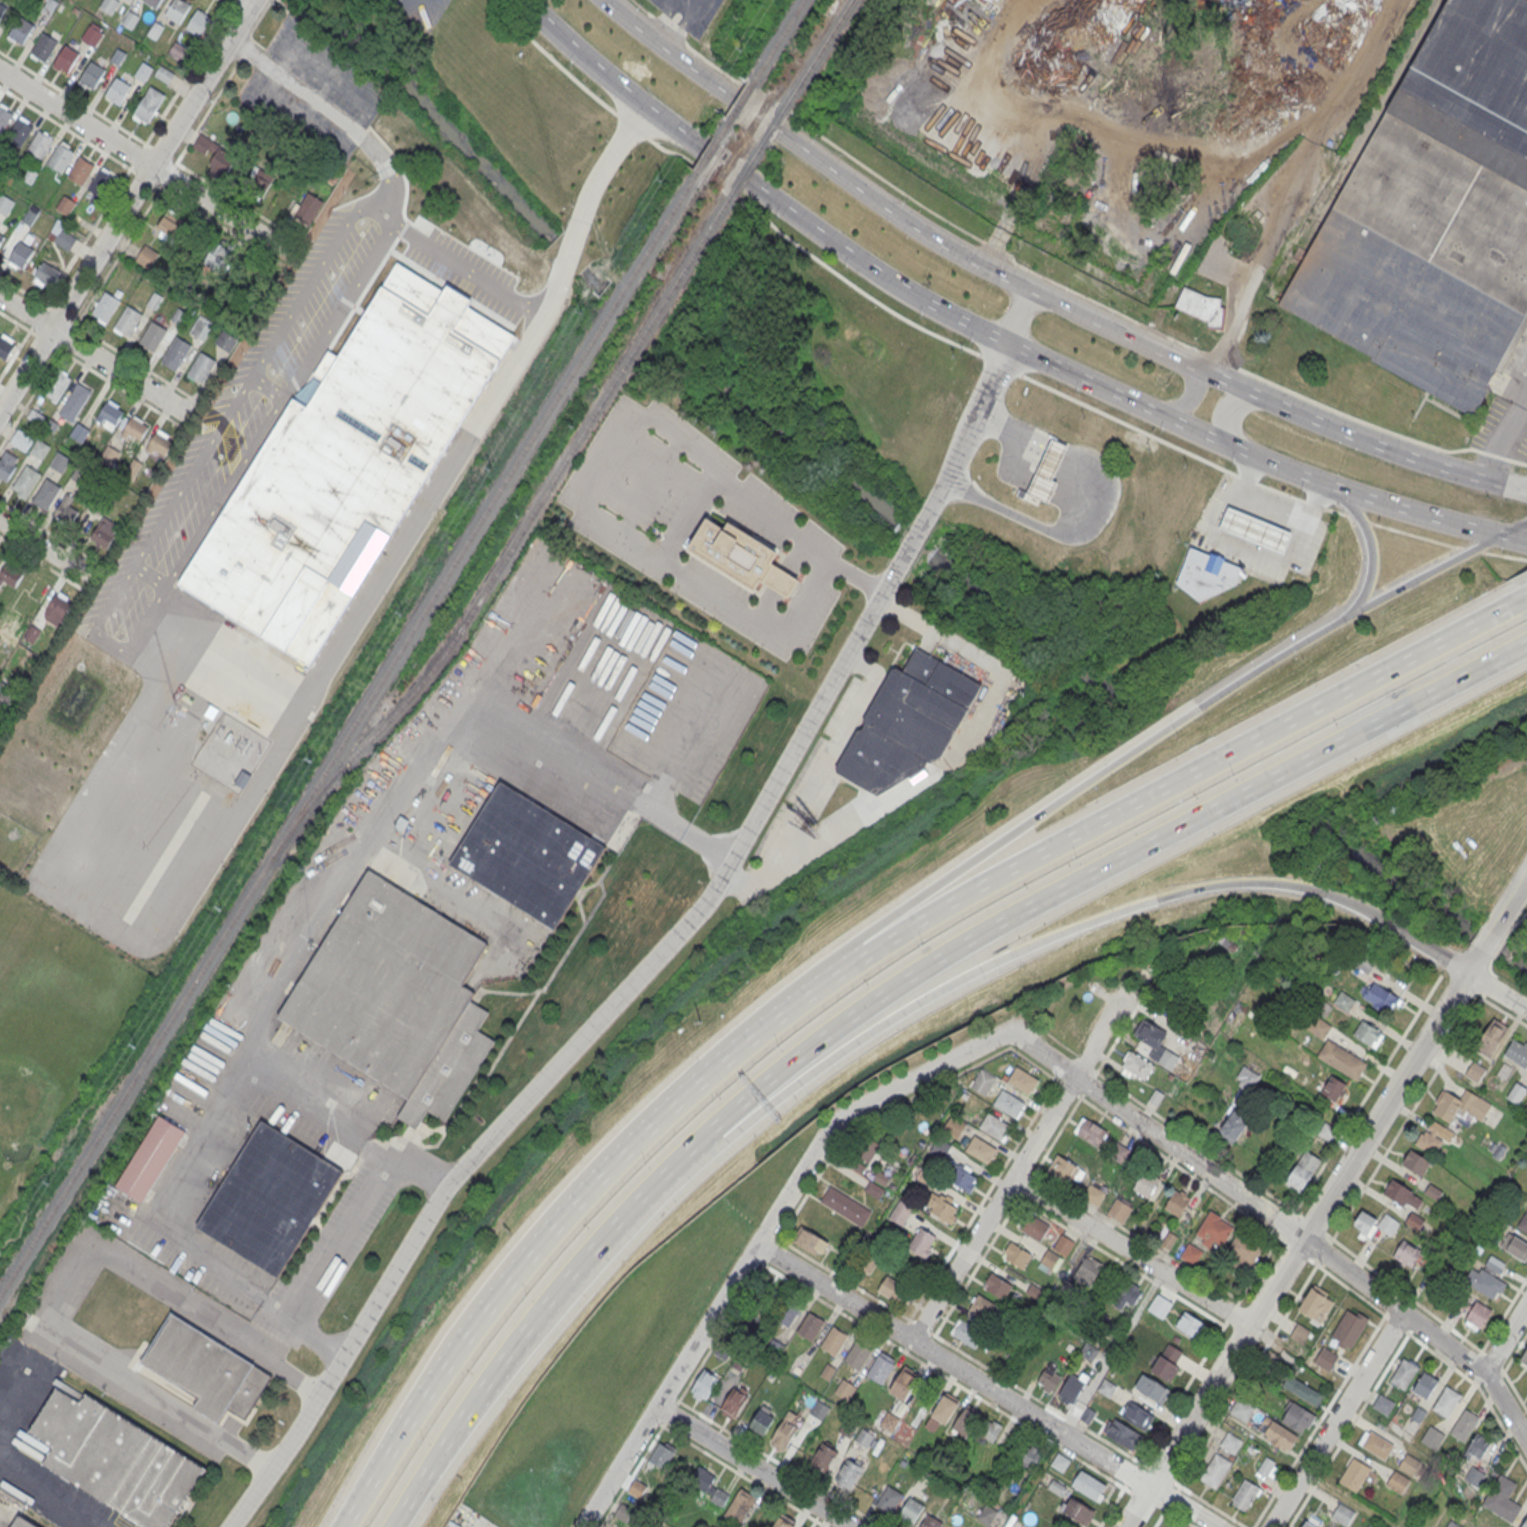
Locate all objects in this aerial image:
road: (235, 0)
road: (252, 0)
road: (227, 2)
building: (153, 3)
building: (110, 5)
road: (684, 5)
road: (701, 5)
building: (178, 11)
parking lot: (693, 14)
building: (199, 24)
road: (254, 25)
road: (676, 29)
building: (21, 31)
building: (91, 36)
road: (252, 38)
railway: (778, 40)
building: (44, 48)
road: (246, 48)
building: (178, 50)
railway: (819, 51)
building: (66, 60)
building: (92, 77)
building: (118, 92)
building: (149, 105)
river: (440, 114)
building: (4, 117)
road: (768, 124)
railway: (725, 125)
building: (19, 132)
railway: (1365, 132)
road: (1177, 141)
building: (40, 144)
railway: (758, 149)
building: (216, 156)
building: (61, 157)
road: (145, 160)
road: (383, 160)
road: (716, 161)
building: (80, 169)
road: (140, 176)
building: (259, 181)
building: (101, 182)
road: (116, 189)
road: (231, 196)
building: (5, 204)
building: (65, 204)
road: (127, 207)
building: (308, 210)
building: (1434, 214)
building: (173, 225)
building: (2, 237)
building: (63, 238)
road: (1268, 238)
road: (121, 253)
building: (220, 253)
river: (569, 253)
building: (21, 256)
building: (147, 256)
building: (47, 274)
river: (594, 278)
road: (556, 282)
building: (106, 306)
road: (1064, 306)
building: (1200, 308)
river: (636, 318)
building: (128, 320)
road: (966, 326)
building: (201, 330)
building: (152, 335)
road: (99, 340)
building: (226, 342)
building: (6, 347)
road: (971, 350)
building: (178, 351)
road: (95, 355)
building: (202, 367)
road: (90, 368)
building: (57, 386)
road: (1187, 401)
building: (75, 402)
road: (1226, 409)
building: (110, 415)
building: (135, 430)
road: (1011, 431)
river: (781, 436)
road: (1357, 437)
building: (21, 440)
road: (1505, 441)
building: (160, 448)
building: (39, 449)
road: (1053, 455)
building: (356, 458)
road: (1262, 460)
building: (59, 462)
building: (8, 465)
building: (1047, 470)
building: (26, 481)
road: (1514, 484)
traffic signals: (1502, 485)
building: (46, 493)
road: (1270, 506)
road: (682, 528)
road: (1038, 528)
road: (1512, 528)
building: (1255, 530)
road: (49, 531)
building: (104, 531)
railway: (516, 539)
road: (1366, 539)
river: (913, 540)
road: (45, 550)
road: (1249, 550)
building: (741, 556)
building: (0, 557)
road: (42, 562)
building: (1206, 573)
road: (1425, 573)
building: (10, 576)
building: (57, 610)
river: (1034, 642)
road: (984, 659)
road: (501, 660)
building: (7, 696)
building: (907, 722)
railway: (348, 730)
power substation: (230, 753)
river: (1222, 768)
road: (817, 776)
building: (242, 778)
road: (651, 782)
road: (469, 783)
road: (1160, 789)
road: (1070, 794)
road: (860, 817)
building: (527, 854)
road: (1109, 868)
river: (1413, 891)
road: (1510, 903)
road: (319, 920)
road: (1517, 922)
road: (1079, 926)
road: (673, 937)
road: (1487, 940)
road: (1475, 960)
road: (1498, 989)
building: (396, 997)
building: (1380, 997)
building: (1343, 1001)
park: (51, 1028)
building: (1319, 1028)
building: (1368, 1033)
building: (1149, 1034)
building: (1491, 1039)
building: (1517, 1053)
building: (1342, 1059)
building: (1167, 1060)
building: (1136, 1067)
building: (1475, 1073)
building: (1022, 1080)
building: (982, 1081)
building: (1334, 1088)
building: (1516, 1094)
building: (1008, 1103)
building: (1460, 1106)
building: (995, 1126)
building: (1234, 1126)
building: (1091, 1133)
building: (1326, 1133)
building: (1431, 1136)
road: (207, 1137)
road: (379, 1149)
building: (980, 1149)
building: (862, 1154)
building: (1119, 1154)
building: (150, 1158)
building: (1416, 1163)
road: (1017, 1169)
building: (1065, 1170)
building: (1302, 1172)
building: (962, 1178)
building: (1145, 1185)
building: (1403, 1195)
building: (1093, 1196)
building: (269, 1198)
building: (1177, 1204)
building: (845, 1205)
building: (942, 1209)
road: (357, 1210)
building: (1119, 1211)
building: (900, 1214)
building: (1414, 1221)
road: (1280, 1223)
building: (1523, 1223)
building: (1373, 1224)
building: (1034, 1226)
building: (1215, 1231)
road: (542, 1236)
road: (758, 1241)
building: (811, 1241)
building: (1168, 1241)
building: (922, 1243)
building: (1063, 1245)
building: (1513, 1246)
road: (1297, 1249)
building: (1246, 1250)
road: (1130, 1253)
building: (1407, 1254)
building: (1016, 1255)
building: (1191, 1255)
building: (1051, 1259)
building: (1087, 1270)
road: (66, 1280)
building: (1487, 1284)
building: (997, 1285)
building: (895, 1292)
road: (555, 1293)
building: (1128, 1296)
building: (1316, 1305)
building: (983, 1308)
building: (786, 1313)
building: (1474, 1314)
road: (1387, 1317)
building: (1189, 1324)
road: (303, 1326)
building: (810, 1327)
building: (1349, 1329)
building: (968, 1333)
building: (1300, 1334)
parking lot: (67, 1341)
road: (1504, 1341)
building: (833, 1342)
building: (857, 1356)
building: (1524, 1358)
building: (1325, 1360)
building: (1167, 1362)
building: (204, 1369)
building: (880, 1369)
road: (1249, 1371)
road: (1504, 1372)
building: (1403, 1374)
building: (1049, 1380)
building: (704, 1383)
building: (903, 1385)
building: (1424, 1385)
road: (984, 1387)
building: (1106, 1388)
building: (1071, 1389)
building: (1151, 1389)
road: (1480, 1389)
building: (844, 1390)
building: (1302, 1391)
building: (733, 1402)
building: (1446, 1402)
building: (1383, 1405)
building: (944, 1410)
building: (1241, 1410)
building: (819, 1411)
building: (1136, 1416)
parking lot: (18, 1417)
building: (1297, 1418)
road: (1336, 1420)
building: (762, 1421)
building: (888, 1422)
building: (965, 1422)
building: (1464, 1425)
building: (785, 1430)
building: (847, 1430)
building: (989, 1432)
building: (1278, 1434)
building: (1432, 1438)
building: (864, 1439)
building: (1231, 1444)
building: (1376, 1444)
building: (1478, 1446)
building: (661, 1456)
building: (1029, 1457)
building: (823, 1458)
building: (115, 1459)
building: (1059, 1464)
building: (1408, 1464)
road: (752, 1467)
building: (1268, 1467)
building: (1215, 1469)
building: (848, 1475)
building: (1355, 1475)
building: (1475, 1477)
building: (1398, 1482)
building: (707, 1484)
building: (1088, 1486)
building: (637, 1489)
building: (1245, 1494)
building: (1502, 1498)
road: (55, 1501)
building: (888, 1501)
road: (406, 1503)
building: (740, 1507)
parking lot: (8, 1510)
building: (909, 1512)
building: (1078, 1512)
building: (623, 1513)
building: (1343, 1514)
road: (1159, 1518)
road: (1179, 1518)
building: (24, 1522)
building: (929, 1522)
building: (783, 1523)
building: (1524, 1523)
building: (1307, 1524)

